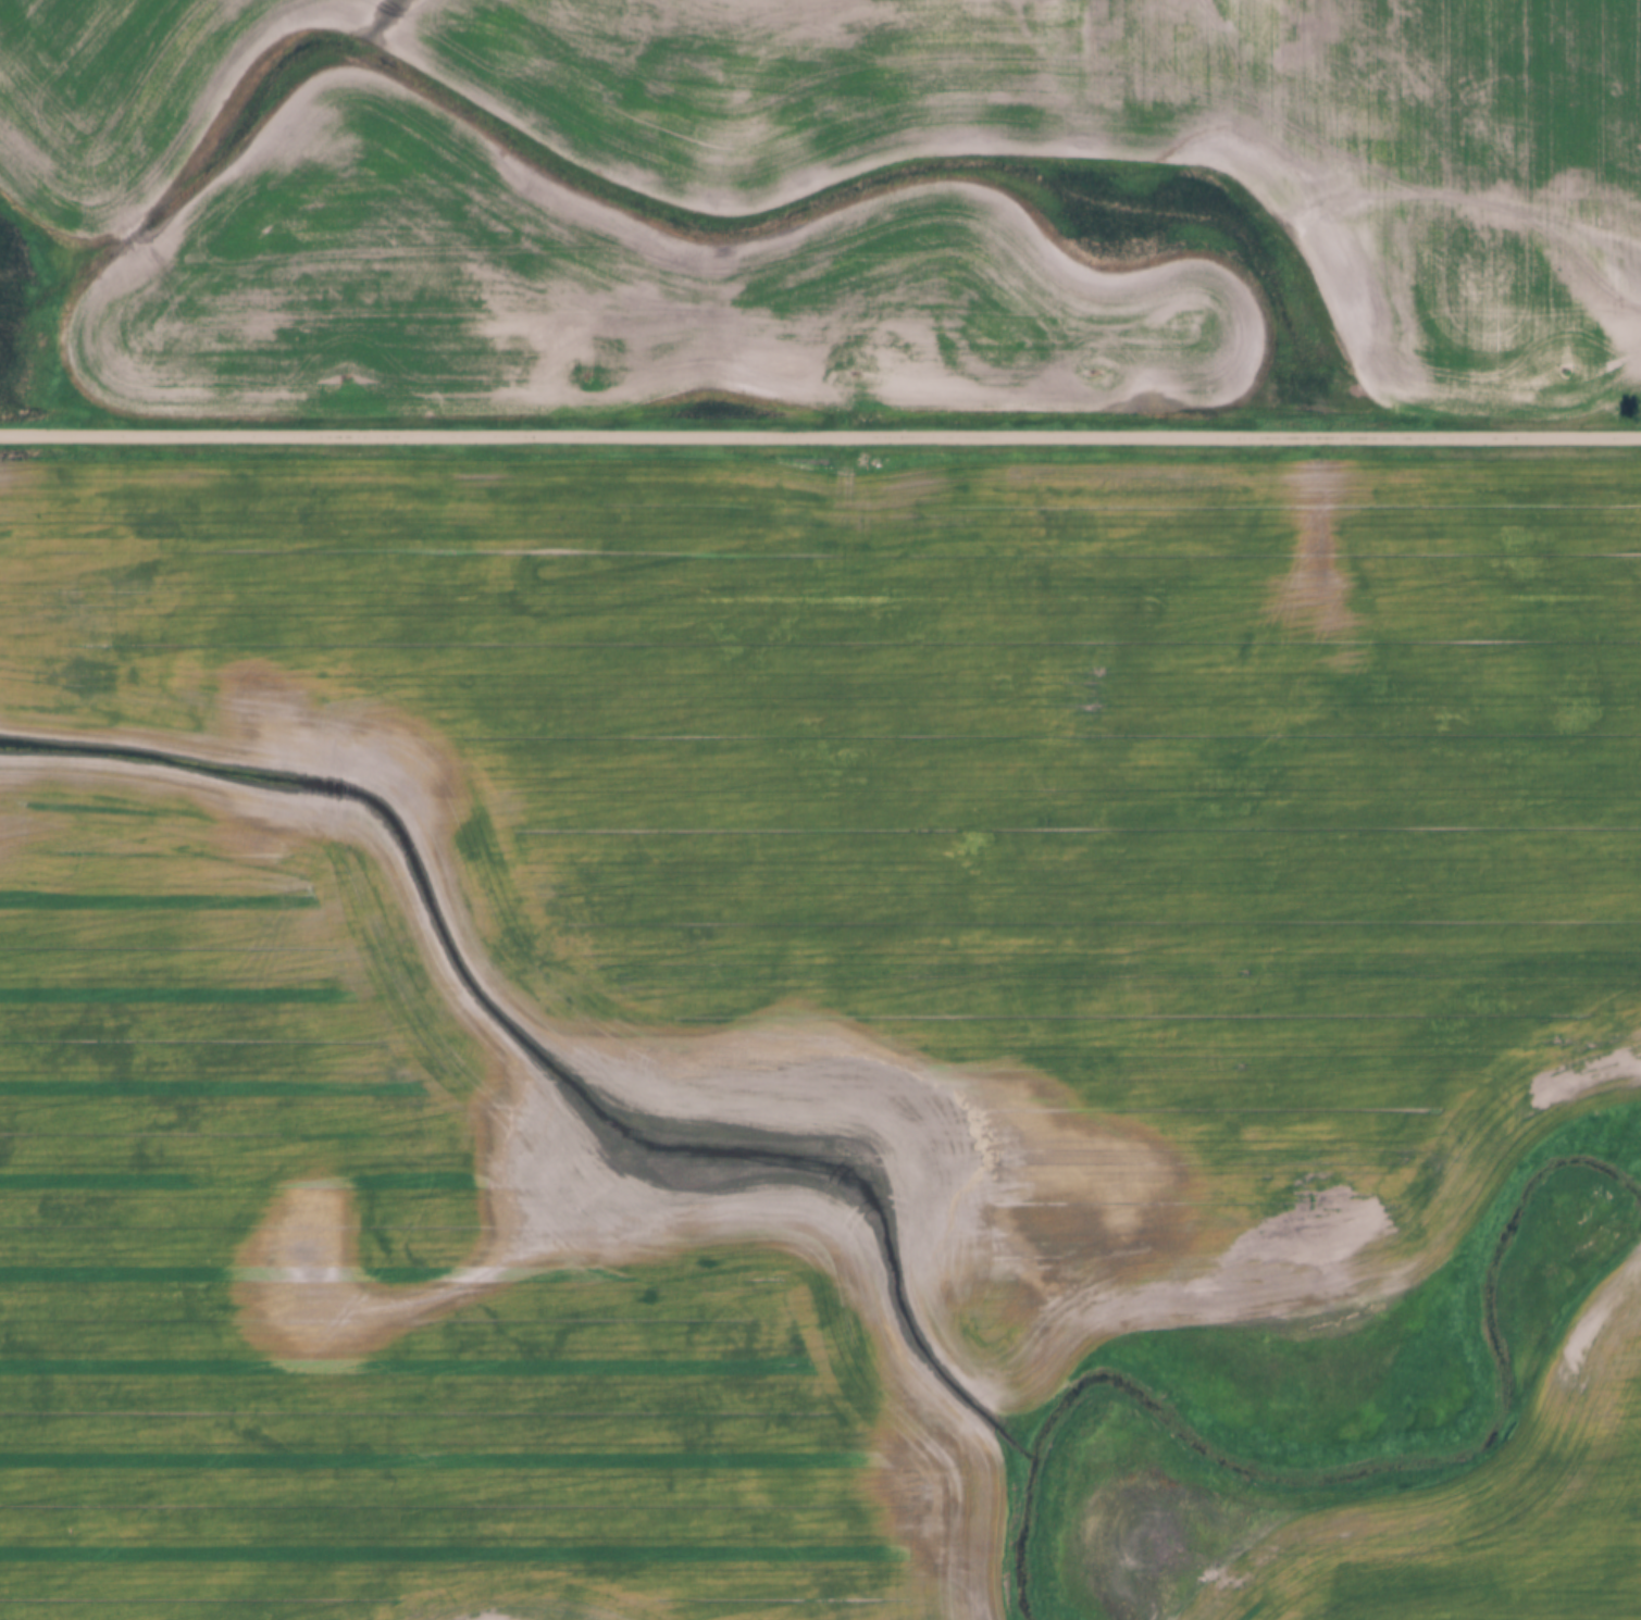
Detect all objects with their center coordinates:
road: (820, 431)

